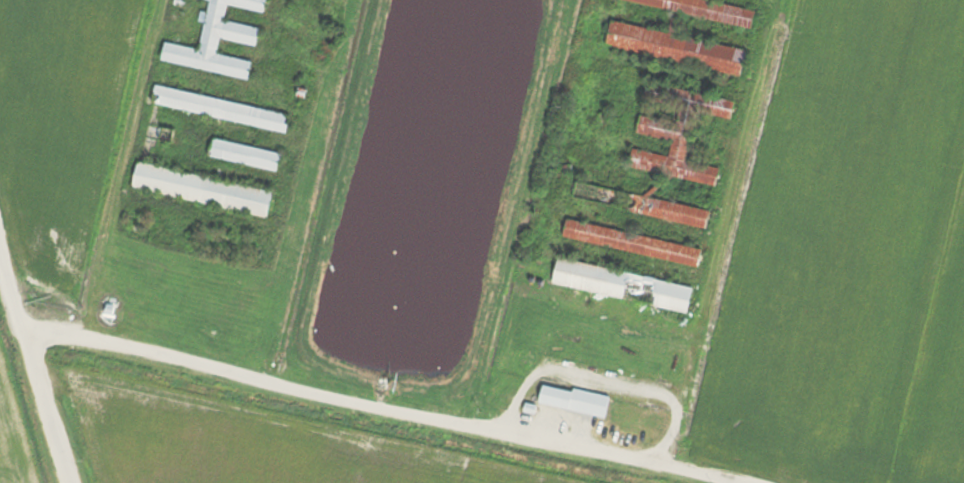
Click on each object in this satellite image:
building: (222, 41)
building: (662, 41)
building: (225, 108)
building: (682, 133)
building: (250, 154)
building: (207, 189)
building: (642, 203)
building: (197, 237)
building: (636, 242)
building: (186, 285)
building: (628, 285)
road: (33, 363)
road: (608, 378)
building: (577, 400)
road: (371, 406)

